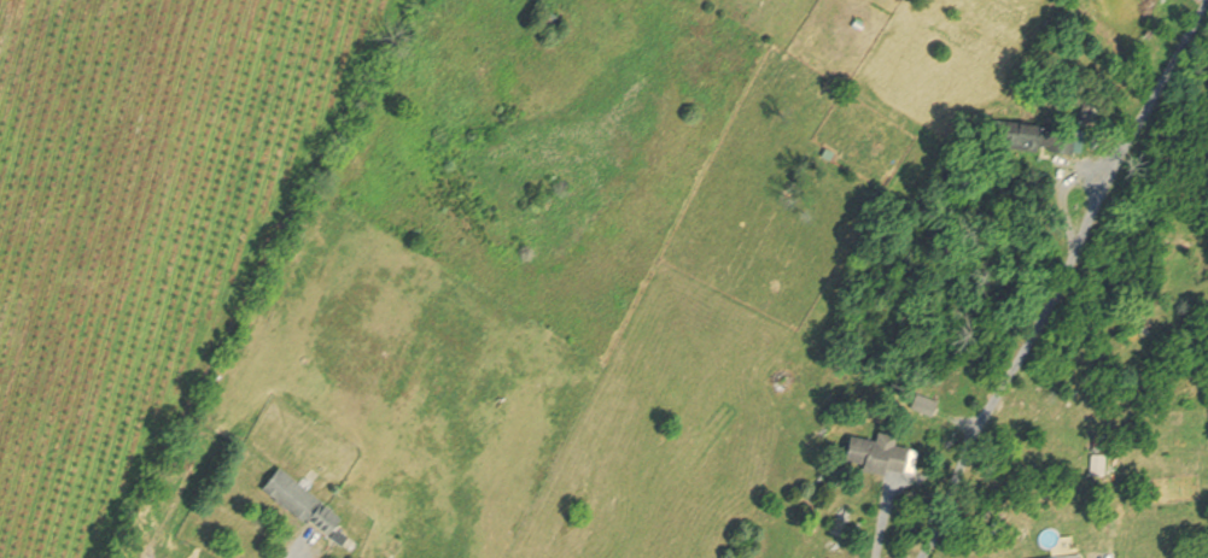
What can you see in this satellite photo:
road: (1066, 280)
road: (886, 522)
road: (292, 548)

